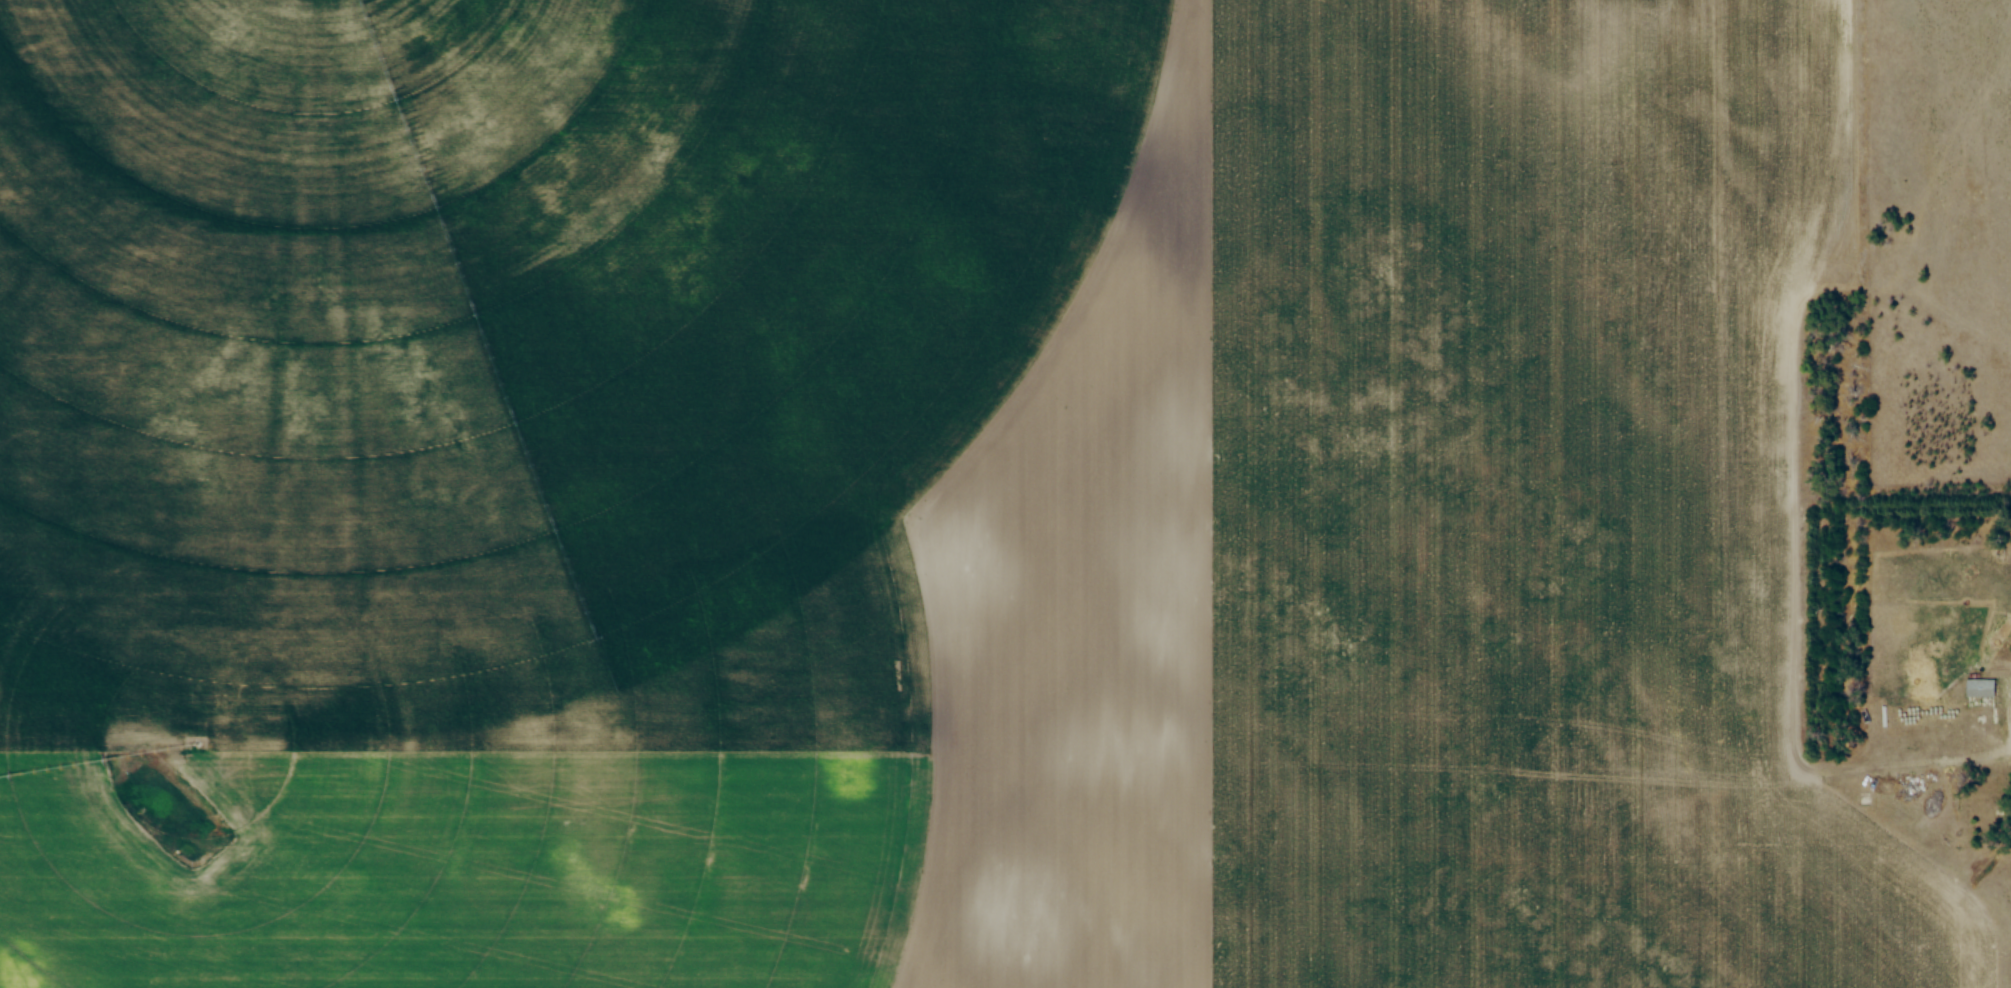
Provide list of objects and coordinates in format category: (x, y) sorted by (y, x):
building: (1982, 688)

